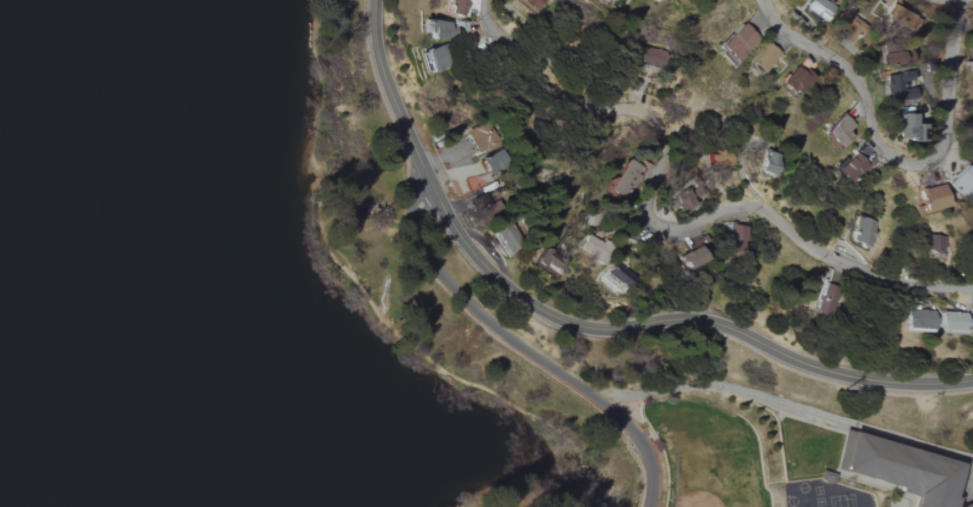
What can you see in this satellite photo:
building: (704, 1)
road: (946, 3)
road: (960, 3)
building: (529, 4)
building: (454, 7)
building: (819, 9)
building: (897, 16)
building: (441, 30)
building: (736, 44)
building: (653, 57)
building: (763, 58)
building: (891, 58)
building: (435, 59)
building: (972, 68)
building: (797, 80)
building: (901, 88)
road: (389, 93)
building: (910, 130)
building: (839, 132)
building: (484, 137)
road: (881, 150)
building: (720, 158)
building: (496, 161)
building: (770, 164)
building: (850, 169)
building: (625, 179)
building: (963, 184)
building: (934, 200)
building: (682, 201)
building: (483, 206)
road: (661, 226)
building: (863, 232)
building: (507, 237)
building: (734, 238)
building: (935, 247)
building: (595, 249)
building: (691, 258)
building: (548, 261)
building: (619, 275)
park: (245, 282)
road: (441, 291)
building: (826, 298)
road: (366, 299)
road: (674, 317)
building: (971, 317)
building: (919, 319)
road: (523, 350)
road: (783, 402)
building: (897, 470)
building: (967, 504)

